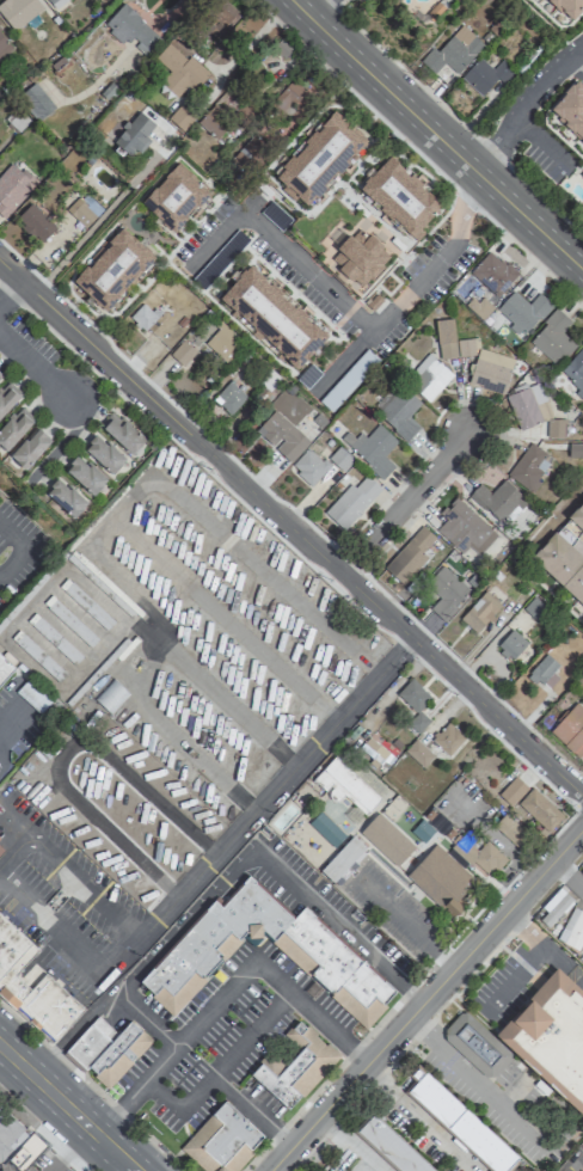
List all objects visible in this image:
building: (55, 2)
road: (317, 6)
building: (569, 8)
building: (20, 12)
building: (217, 17)
building: (129, 27)
building: (4, 44)
building: (282, 49)
building: (453, 53)
building: (182, 70)
building: (486, 74)
building: (286, 97)
building: (36, 102)
road: (528, 106)
building: (570, 109)
building: (180, 117)
building: (17, 119)
building: (217, 119)
road: (440, 134)
building: (133, 135)
building: (252, 148)
building: (320, 160)
building: (12, 189)
building: (174, 197)
building: (400, 197)
building: (81, 211)
building: (36, 222)
road: (94, 225)
building: (358, 257)
building: (112, 268)
building: (493, 274)
road: (11, 292)
building: (522, 312)
building: (145, 315)
building: (271, 317)
road: (351, 318)
building: (553, 337)
building: (221, 343)
building: (183, 354)
building: (456, 355)
road: (36, 369)
building: (575, 372)
building: (429, 378)
building: (6, 398)
building: (228, 398)
building: (534, 410)
building: (399, 412)
building: (14, 428)
building: (123, 433)
building: (281, 436)
building: (31, 448)
building: (575, 448)
building: (375, 449)
building: (104, 453)
building: (339, 459)
road: (202, 466)
building: (308, 466)
building: (530, 466)
building: (85, 474)
building: (66, 498)
building: (352, 501)
building: (498, 501)
road: (409, 507)
building: (577, 516)
road: (290, 527)
building: (464, 527)
road: (13, 535)
building: (411, 554)
road: (13, 563)
building: (561, 564)
building: (447, 591)
building: (86, 603)
building: (534, 608)
building: (480, 612)
building: (69, 620)
building: (54, 638)
building: (510, 644)
building: (38, 656)
building: (5, 668)
building: (541, 670)
building: (111, 695)
road: (225, 703)
building: (413, 704)
building: (571, 730)
road: (172, 735)
building: (447, 738)
building: (417, 753)
building: (344, 785)
building: (511, 791)
building: (539, 809)
building: (510, 830)
building: (385, 839)
building: (1, 846)
building: (418, 846)
road: (211, 856)
building: (478, 856)
building: (343, 859)
building: (582, 870)
road: (567, 876)
building: (441, 877)
building: (553, 908)
road: (335, 912)
road: (406, 921)
building: (572, 928)
road: (67, 944)
road: (544, 945)
building: (321, 957)
building: (582, 961)
road: (243, 974)
building: (32, 987)
road: (426, 1000)
parking lot: (234, 1024)
building: (551, 1036)
building: (477, 1044)
building: (108, 1049)
road: (238, 1052)
road: (362, 1052)
building: (296, 1065)
road: (474, 1083)
road: (91, 1086)
road: (164, 1095)
road: (119, 1105)
road: (67, 1108)
road: (299, 1109)
road: (253, 1110)
road: (417, 1122)
building: (460, 1122)
road: (43, 1130)
building: (11, 1133)
building: (222, 1140)
road: (352, 1142)
building: (392, 1146)
building: (29, 1155)
road: (576, 1164)

